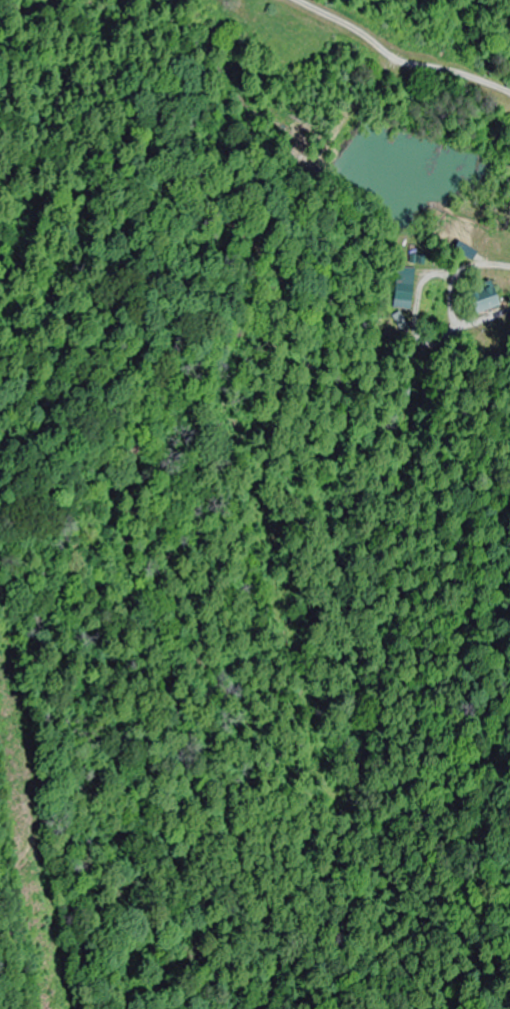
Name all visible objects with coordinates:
road: (399, 59)
building: (401, 293)
building: (478, 299)

